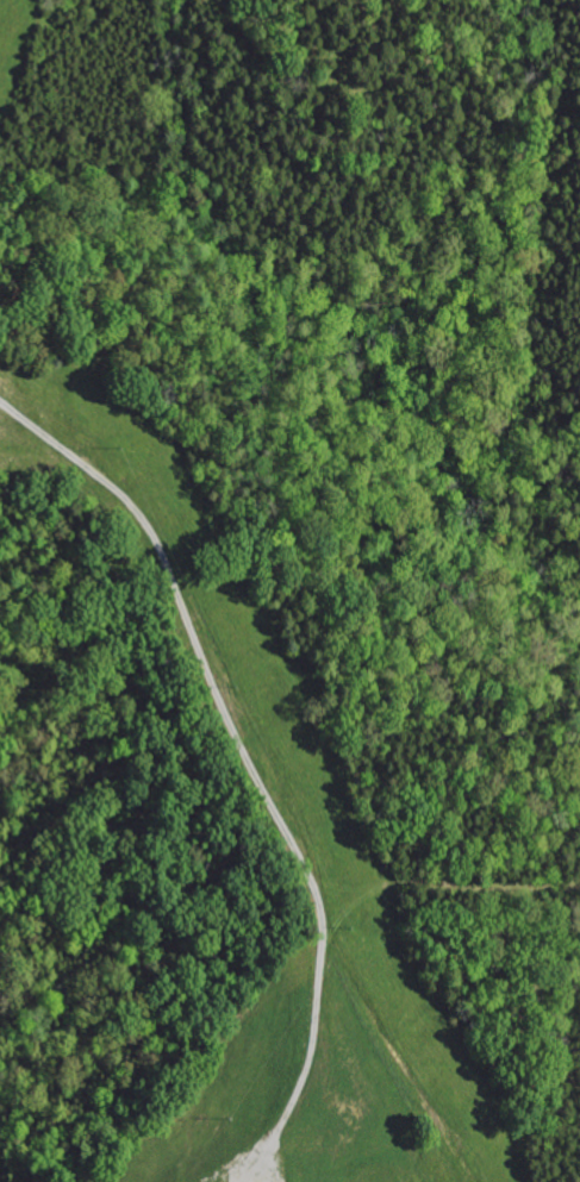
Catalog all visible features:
road: (280, 740)

